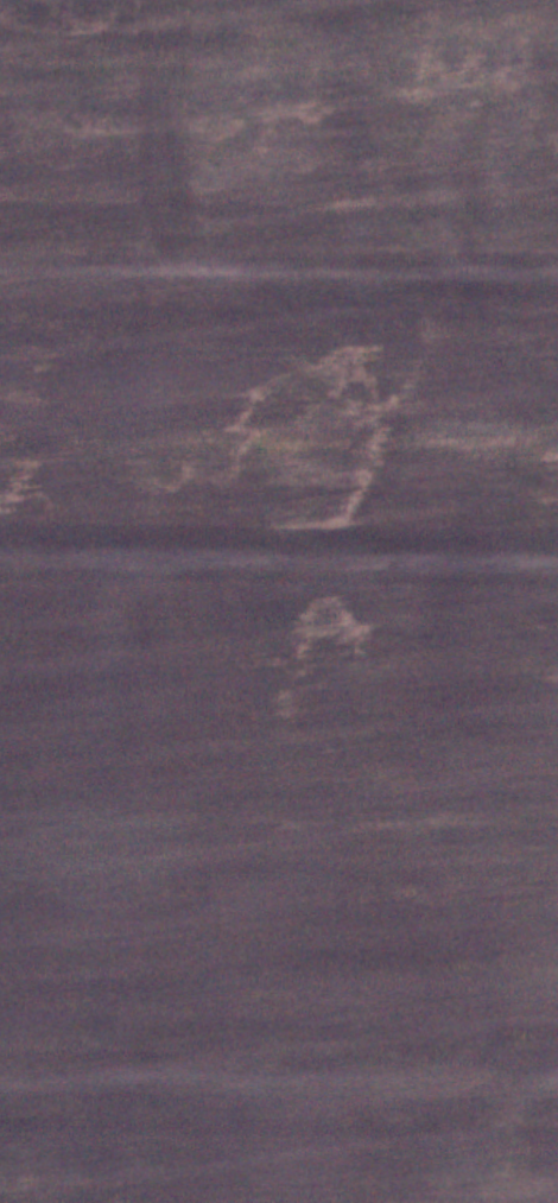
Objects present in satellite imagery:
crop: (279, 601)

